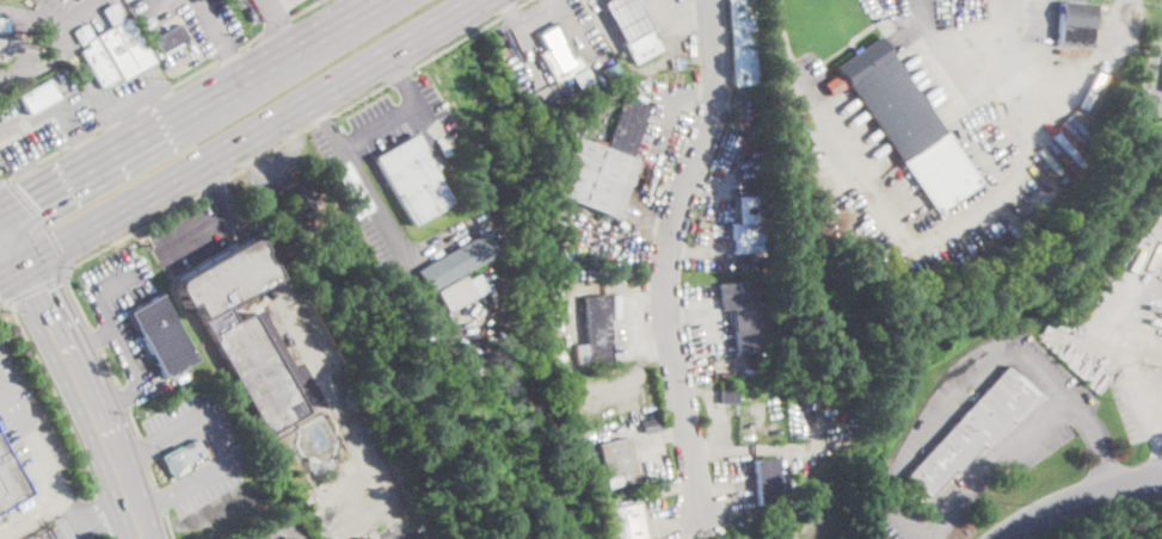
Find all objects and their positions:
road: (356, 2)
road: (149, 4)
parking lot: (254, 4)
road: (305, 8)
road: (76, 12)
parking lot: (70, 13)
road: (30, 16)
road: (49, 16)
road: (537, 19)
road: (682, 19)
parking lot: (190, 20)
road: (977, 20)
road: (24, 21)
road: (276, 23)
building: (628, 23)
building: (4, 24)
road: (278, 24)
road: (604, 24)
building: (1075, 24)
road: (213, 27)
road: (573, 29)
road: (468, 32)
road: (519, 36)
building: (171, 38)
road: (252, 39)
building: (6, 42)
building: (744, 42)
building: (113, 48)
building: (557, 51)
road: (227, 54)
road: (1037, 56)
road: (234, 64)
road: (36, 68)
parking lot: (19, 69)
road: (195, 73)
road: (398, 73)
parking lot: (1152, 83)
road: (88, 86)
parking lot: (136, 89)
road: (1157, 91)
building: (38, 97)
road: (170, 97)
road: (357, 97)
road: (63, 98)
road: (136, 98)
road: (812, 99)
road: (136, 105)
road: (182, 106)
road: (145, 110)
road: (17, 119)
parking lot: (42, 122)
road: (376, 122)
building: (906, 124)
road: (428, 125)
road: (1028, 125)
road: (98, 128)
road: (248, 132)
road: (35, 135)
road: (81, 137)
road: (81, 137)
road: (277, 145)
road: (53, 153)
building: (1047, 160)
building: (602, 162)
road: (26, 168)
road: (21, 172)
building: (413, 179)
road: (4, 180)
road: (214, 184)
building: (348, 190)
traffic signals: (31, 196)
building: (300, 198)
road: (41, 221)
road: (226, 221)
building: (487, 223)
road: (387, 225)
building: (745, 225)
parking lot: (190, 237)
road: (11, 241)
road: (107, 243)
road: (668, 254)
building: (456, 262)
building: (1103, 267)
road: (11, 268)
road: (38, 287)
building: (461, 291)
traffic signals: (39, 296)
road: (1, 302)
road: (5, 303)
building: (745, 315)
building: (725, 324)
building: (597, 329)
parking lot: (117, 332)
building: (242, 333)
building: (162, 335)
road: (94, 336)
road: (117, 340)
road: (91, 341)
building: (560, 361)
building: (757, 364)
road: (111, 366)
building: (602, 368)
road: (320, 372)
road: (82, 378)
building: (727, 395)
road: (124, 397)
road: (60, 402)
road: (928, 407)
parking lot: (339, 413)
road: (1151, 413)
road: (134, 422)
parking lot: (26, 423)
building: (651, 425)
parking lot: (193, 427)
building: (972, 428)
road: (1029, 439)
road: (30, 440)
road: (219, 440)
road: (1100, 444)
road: (143, 450)
road: (135, 451)
building: (184, 458)
building: (616, 461)
building: (319, 463)
road: (153, 475)
building: (643, 478)
building: (10, 479)
building: (766, 481)
parking lot: (204, 483)
road: (161, 498)
road: (153, 501)
road: (1080, 503)
road: (69, 510)
road: (30, 513)
road: (1090, 513)
road: (92, 515)
road: (137, 519)
road: (910, 519)
building: (623, 522)
road: (170, 525)
road: (278, 526)
parking lot: (257, 532)
building: (365, 538)

